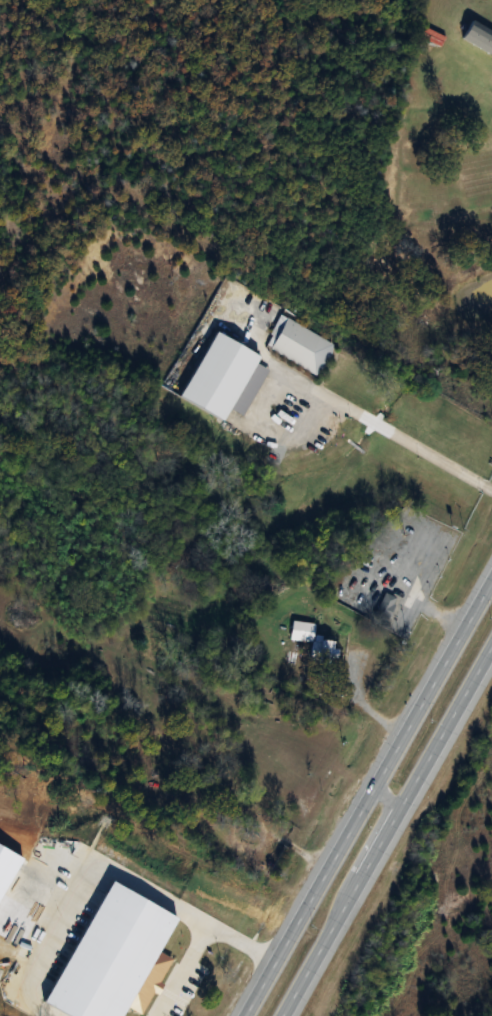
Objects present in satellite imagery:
building: (478, 37)
building: (299, 345)
building: (225, 377)
road: (402, 439)
building: (384, 607)
building: (300, 631)
building: (325, 644)
road: (366, 793)
road: (387, 796)
road: (388, 833)
road: (76, 890)
building: (192, 920)
road: (241, 942)
road: (182, 971)

